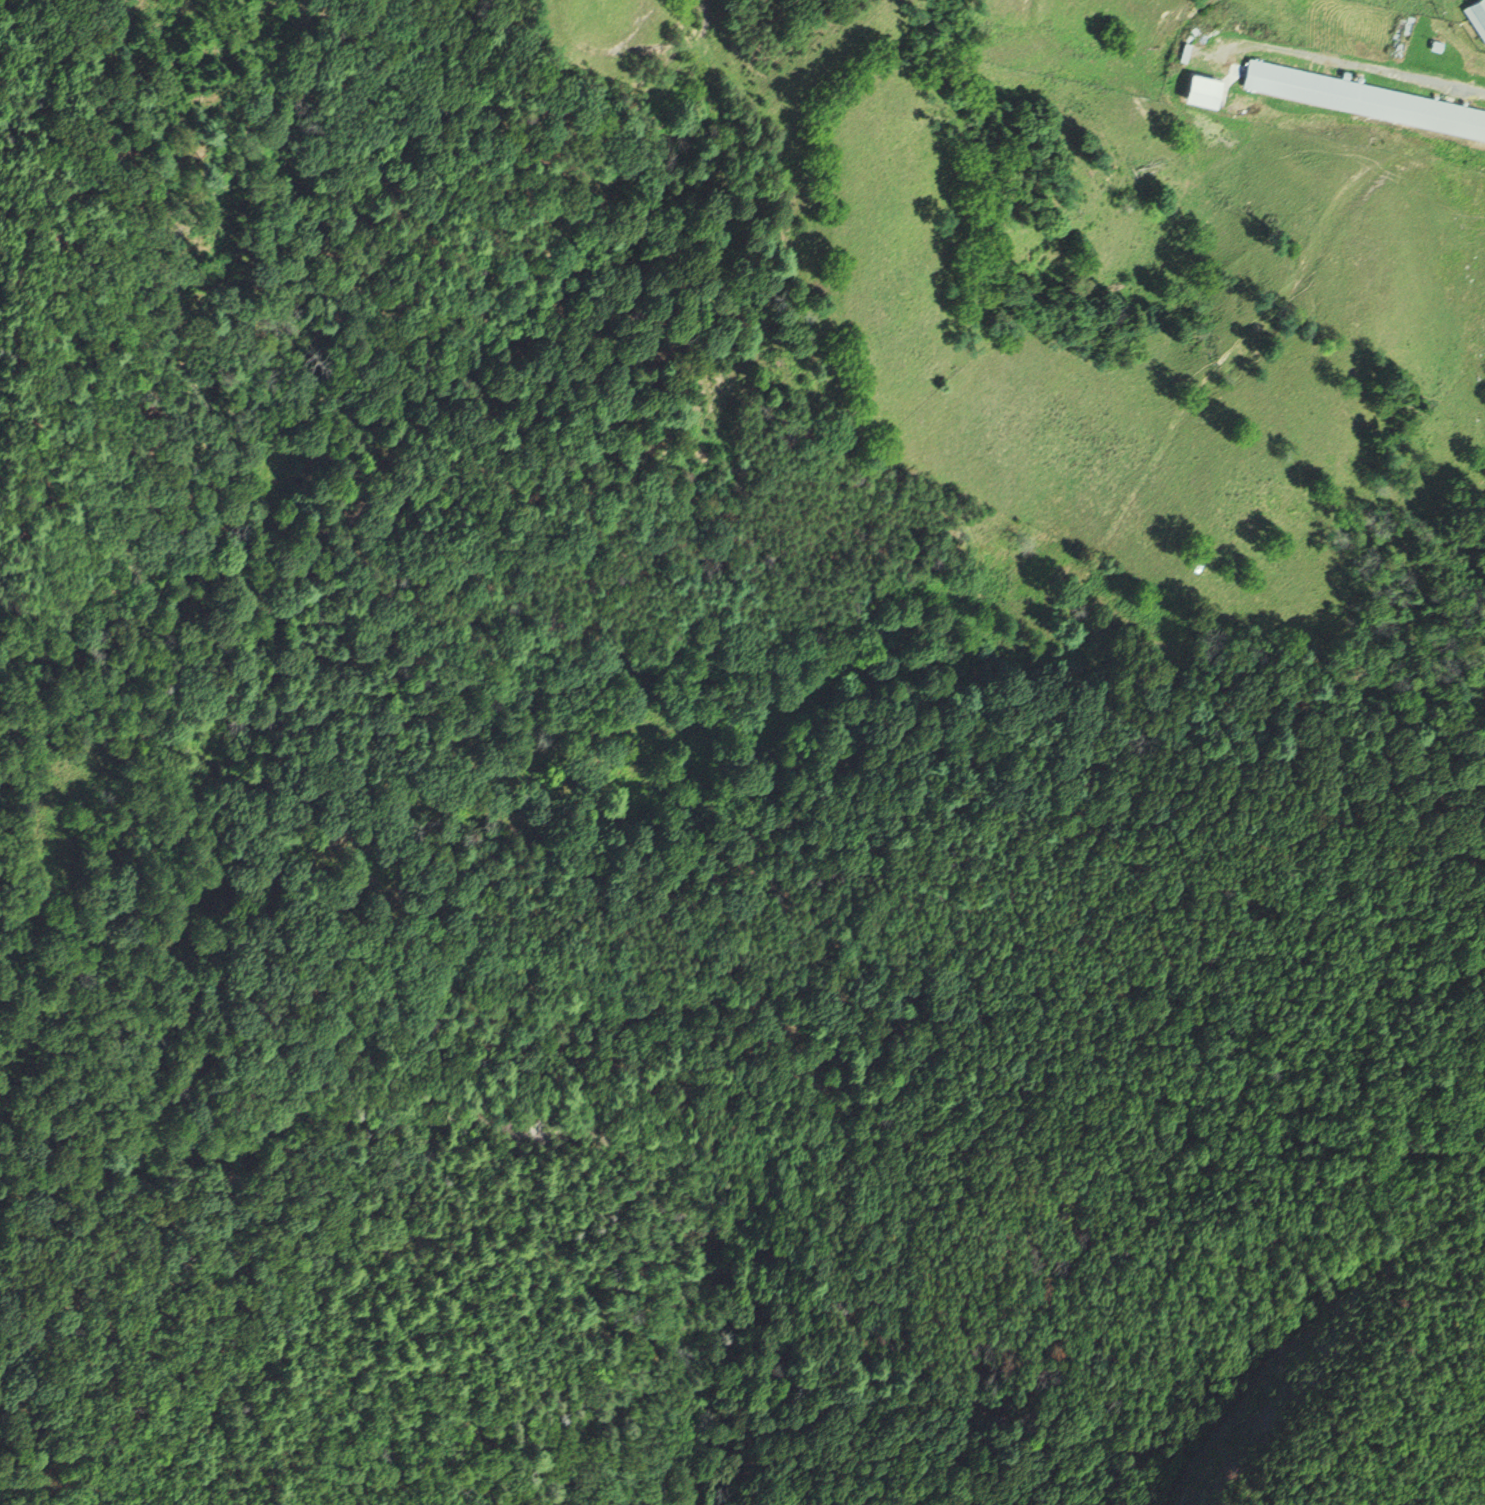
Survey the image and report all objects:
building: (1475, 16)
building: (1189, 48)
road: (1354, 67)
building: (1365, 96)

